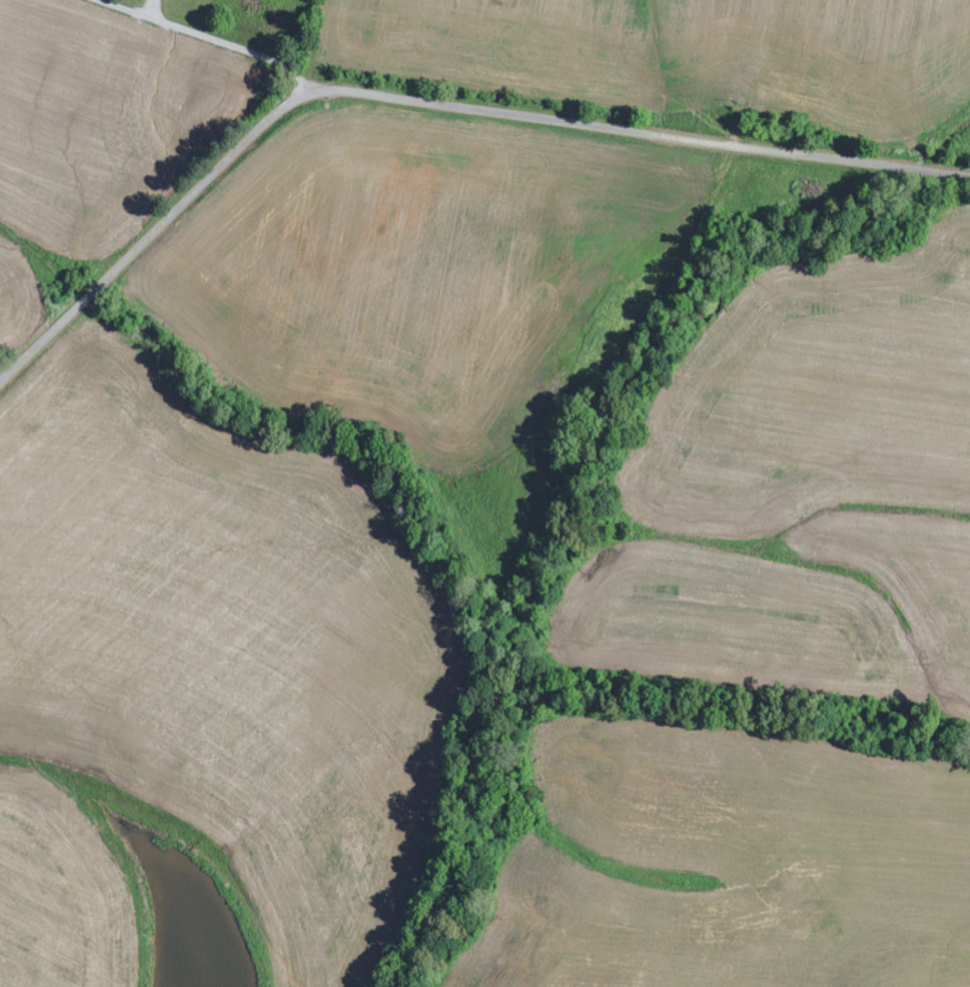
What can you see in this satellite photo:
road: (203, 38)
road: (429, 101)

